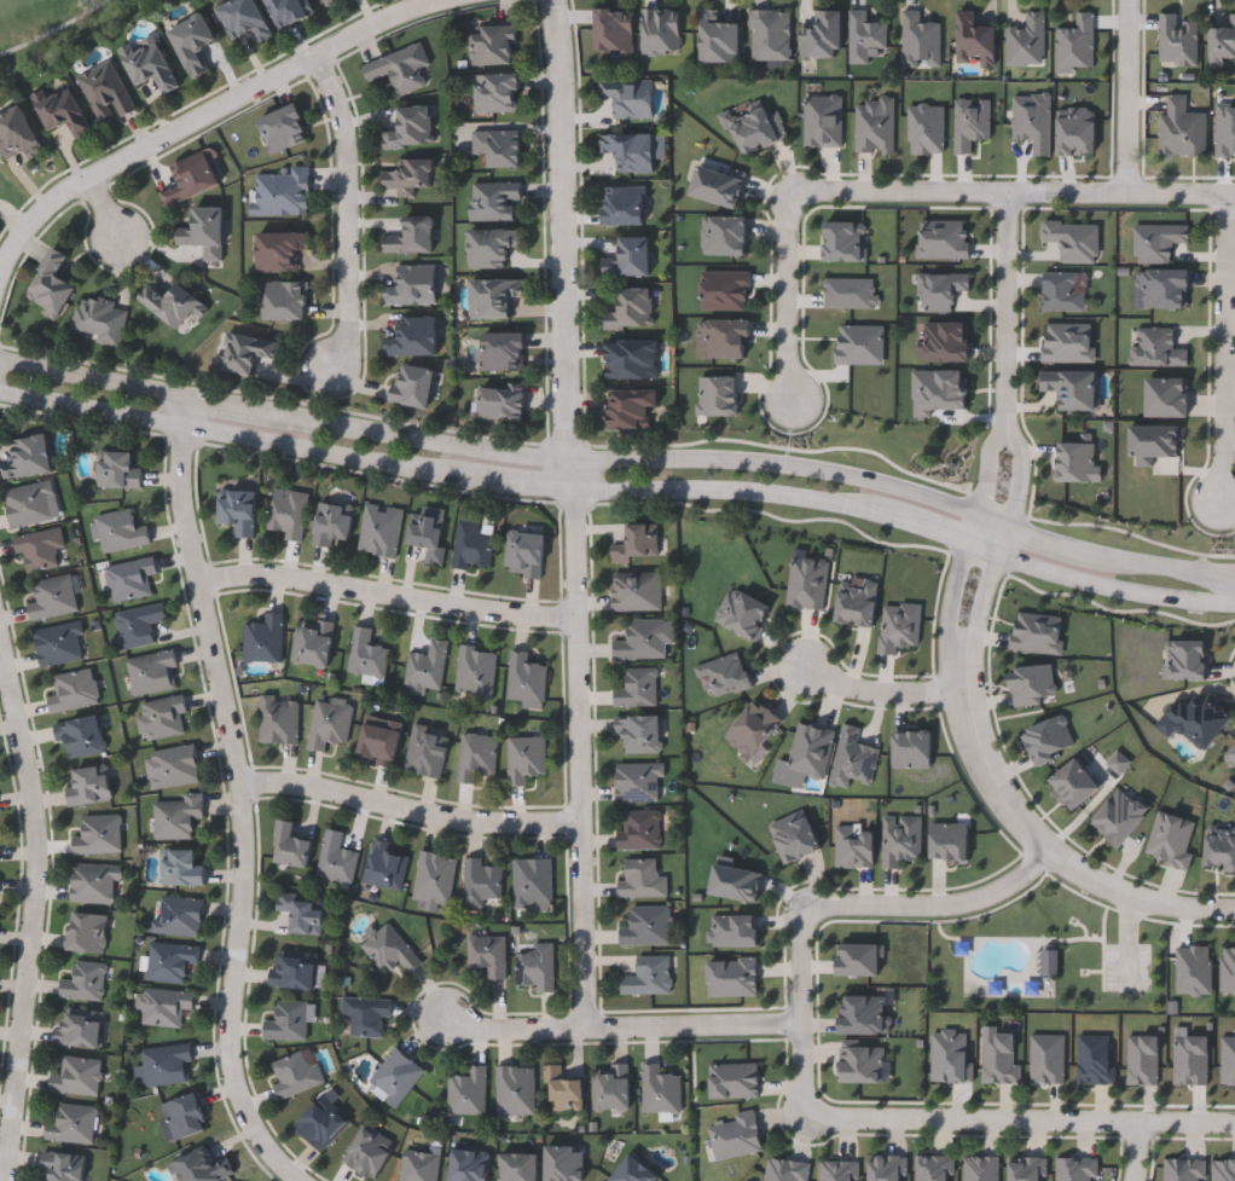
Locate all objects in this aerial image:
building: (326, 1)
building: (288, 11)
building: (243, 19)
park: (54, 27)
building: (611, 29)
building: (660, 29)
building: (767, 35)
building: (821, 35)
building: (863, 36)
building: (717, 37)
building: (917, 40)
building: (973, 40)
building: (1176, 40)
building: (1220, 40)
building: (1024, 41)
building: (191, 42)
building: (1074, 42)
building: (491, 45)
building: (147, 65)
building: (398, 68)
building: (104, 91)
building: (494, 92)
building: (627, 97)
road: (1138, 97)
building: (60, 111)
road: (211, 115)
building: (874, 127)
building: (283, 128)
building: (408, 128)
building: (1181, 129)
building: (758, 131)
building: (17, 134)
building: (497, 147)
building: (628, 151)
building: (407, 176)
building: (190, 178)
building: (717, 186)
road: (1011, 191)
building: (280, 192)
building: (492, 199)
building: (621, 205)
road: (103, 212)
road: (347, 215)
road: (15, 218)
building: (203, 232)
building: (723, 235)
building: (410, 236)
road: (572, 241)
building: (842, 241)
building: (491, 248)
building: (278, 250)
building: (628, 257)
building: (48, 284)
building: (411, 285)
building: (1165, 288)
building: (939, 290)
building: (1061, 291)
road: (785, 296)
building: (492, 297)
building: (284, 300)
road: (1008, 301)
building: (172, 303)
building: (630, 311)
building: (98, 319)
building: (412, 336)
building: (723, 337)
building: (945, 342)
building: (858, 343)
building: (1155, 348)
road: (1220, 349)
building: (501, 351)
building: (244, 352)
building: (631, 359)
road: (95, 371)
building: (412, 384)
building: (1072, 388)
road: (237, 398)
building: (1166, 398)
building: (500, 403)
building: (630, 409)
road: (244, 435)
road: (632, 455)
building: (28, 457)
road: (991, 459)
road: (1020, 465)
building: (117, 469)
road: (533, 484)
road: (729, 492)
building: (30, 504)
building: (237, 510)
building: (286, 514)
road: (997, 515)
building: (332, 522)
road: (975, 527)
building: (118, 529)
building: (379, 529)
road: (924, 531)
building: (428, 535)
road: (1009, 538)
road: (1055, 538)
building: (637, 544)
road: (910, 544)
building: (470, 545)
building: (40, 549)
road: (987, 550)
building: (523, 554)
road: (1143, 558)
road: (1060, 573)
road: (1211, 573)
building: (128, 578)
building: (634, 591)
building: (52, 597)
road: (1176, 597)
road: (955, 600)
road: (394, 602)
building: (856, 602)
road: (986, 606)
building: (742, 613)
building: (137, 624)
building: (1037, 632)
building: (262, 638)
building: (642, 639)
building: (312, 643)
building: (59, 644)
building: (365, 654)
building: (1185, 660)
building: (425, 665)
building: (475, 671)
building: (150, 672)
building: (725, 673)
building: (524, 678)
building: (636, 688)
road: (877, 689)
building: (73, 690)
building: (163, 717)
building: (278, 719)
building: (1194, 720)
building: (327, 724)
building: (752, 730)
building: (80, 734)
building: (639, 734)
building: (378, 745)
building: (425, 752)
road: (585, 752)
building: (1231, 756)
building: (475, 757)
building: (523, 758)
building: (851, 759)
building: (174, 766)
building: (637, 782)
building: (1075, 785)
building: (88, 786)
road: (247, 787)
building: (176, 816)
building: (1120, 817)
road: (417, 824)
building: (638, 829)
building: (98, 835)
building: (794, 835)
road: (1044, 838)
building: (899, 841)
building: (290, 847)
building: (1220, 850)
building: (335, 858)
building: (384, 867)
building: (180, 868)
building: (639, 878)
building: (433, 879)
building: (93, 882)
building: (480, 882)
building: (735, 882)
building: (532, 884)
road: (881, 902)
road: (35, 905)
building: (302, 913)
building: (178, 915)
building: (644, 926)
building: (734, 931)
building: (86, 932)
building: (389, 949)
building: (487, 954)
building: (169, 960)
building: (858, 960)
building: (1054, 965)
building: (535, 967)
building: (292, 969)
building: (647, 977)
building: (83, 982)
building: (164, 1006)
building: (863, 1014)
building: (365, 1015)
building: (286, 1021)
road: (697, 1021)
road: (515, 1024)
building: (80, 1029)
building: (164, 1064)
building: (296, 1072)
building: (76, 1076)
building: (395, 1076)
building: (611, 1088)
building: (659, 1089)
building: (515, 1090)
building: (563, 1090)
building: (466, 1092)
building: (182, 1116)
road: (980, 1116)
building: (70, 1123)
road: (1143, 1150)
building: (369, 1151)
building: (468, 1164)
building: (63, 1165)
building: (201, 1165)
building: (518, 1166)
building: (632, 1171)

